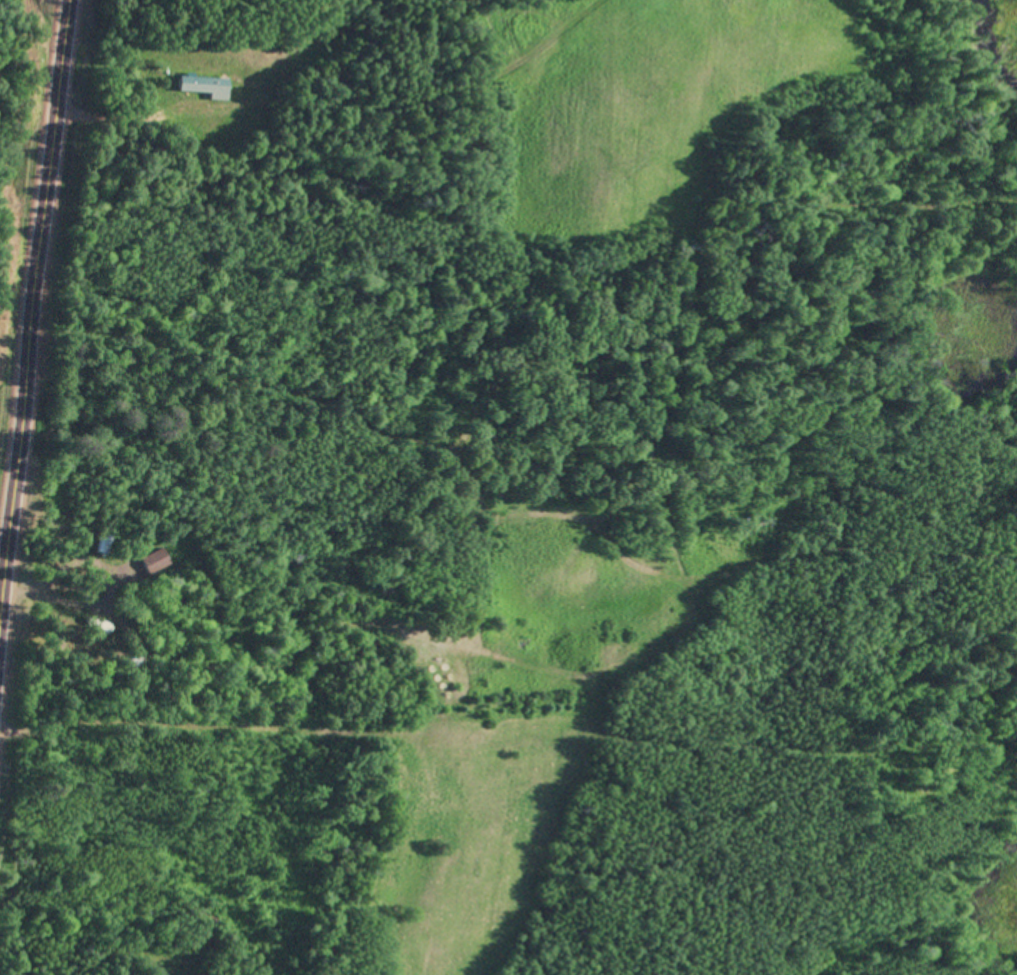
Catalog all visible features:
building: (207, 86)
road: (32, 314)

